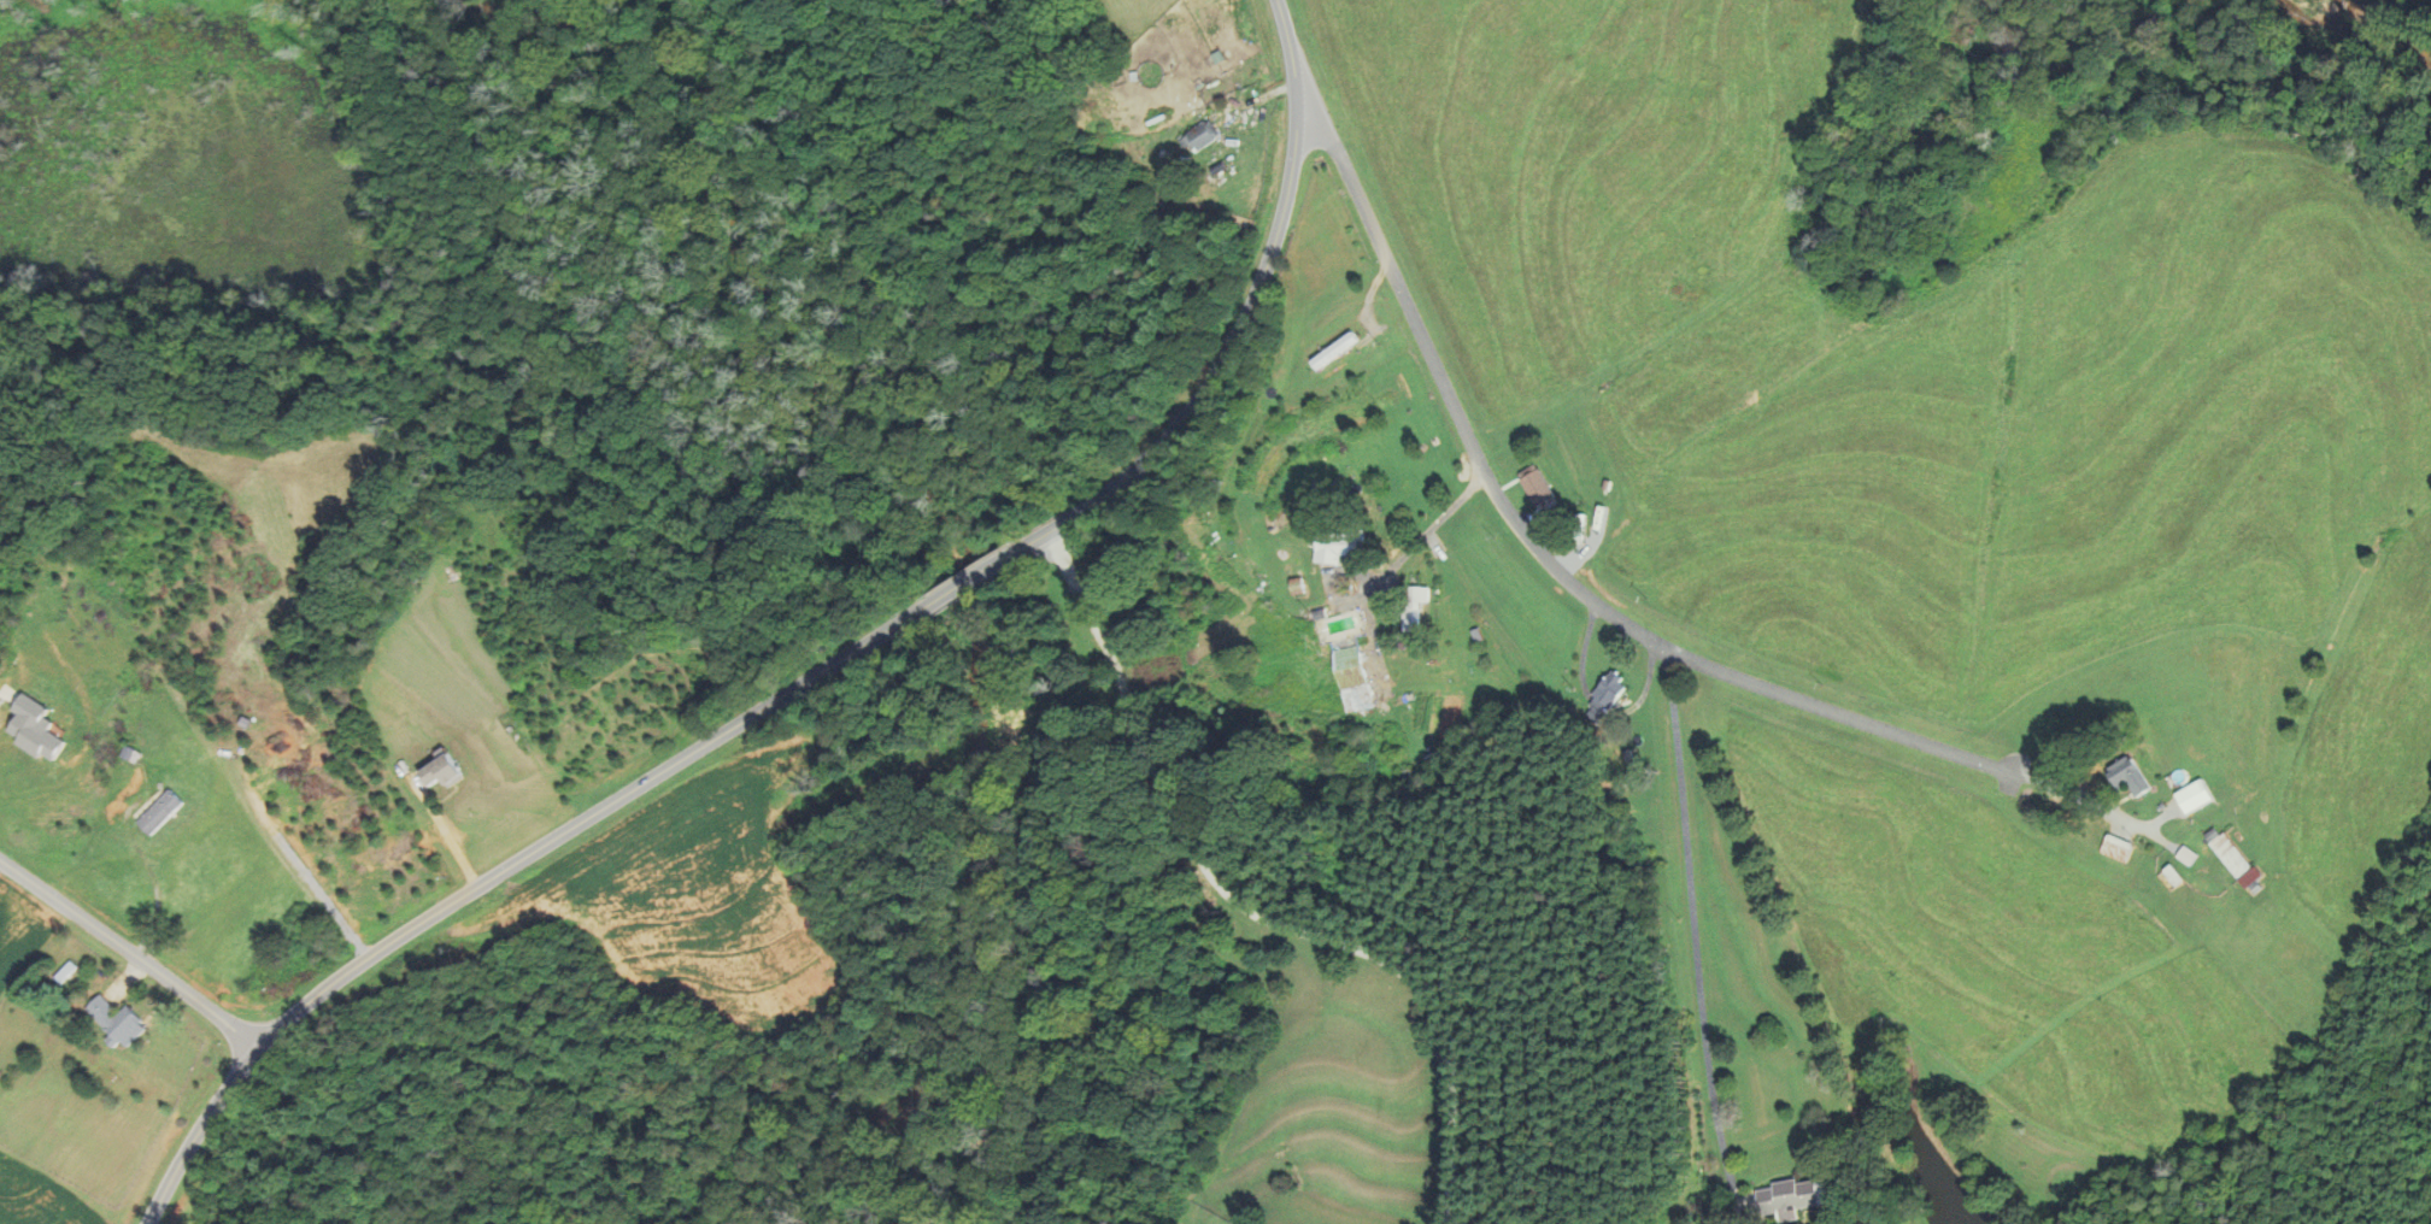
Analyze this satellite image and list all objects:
road: (1290, 48)
building: (1198, 137)
building: (1327, 351)
road: (1223, 360)
building: (1534, 484)
building: (1339, 546)
road: (1544, 554)
road: (974, 577)
building: (1421, 594)
building: (1415, 618)
building: (1607, 690)
road: (2, 694)
building: (445, 772)
building: (2127, 775)
building: (2190, 795)
building: (162, 812)
building: (2231, 859)
road: (149, 873)
road: (495, 875)
building: (2168, 878)
road: (1250, 912)
road: (1695, 930)
road: (130, 952)
building: (116, 1018)
building: (1784, 1197)

